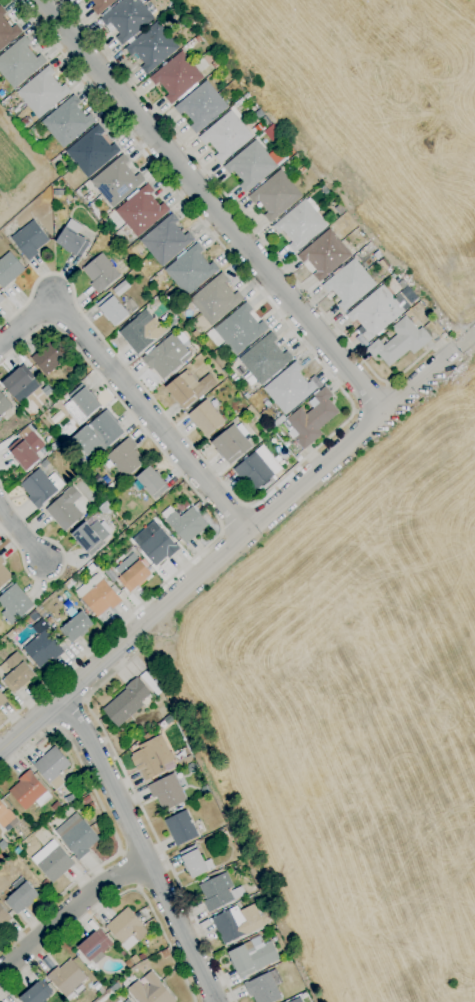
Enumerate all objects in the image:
building: (101, 5)
building: (175, 10)
building: (128, 19)
building: (7, 31)
building: (179, 35)
building: (198, 39)
building: (152, 47)
building: (19, 63)
building: (216, 64)
building: (177, 78)
building: (42, 92)
building: (242, 101)
building: (201, 107)
building: (25, 122)
building: (67, 122)
building: (226, 136)
building: (42, 149)
building: (91, 151)
building: (251, 166)
building: (302, 169)
building: (116, 182)
road: (222, 193)
building: (275, 195)
building: (332, 202)
road: (212, 206)
building: (141, 211)
building: (339, 211)
building: (300, 225)
building: (30, 239)
building: (73, 239)
building: (166, 240)
building: (325, 254)
building: (9, 269)
building: (190, 270)
building: (100, 273)
building: (349, 284)
building: (121, 289)
building: (1, 299)
building: (215, 300)
building: (115, 309)
building: (376, 312)
building: (240, 329)
building: (142, 332)
road: (466, 340)
building: (400, 342)
building: (48, 357)
building: (166, 357)
road: (417, 360)
building: (264, 361)
building: (234, 378)
building: (21, 384)
building: (189, 388)
building: (289, 389)
building: (46, 390)
road: (127, 390)
building: (247, 396)
road: (370, 398)
building: (81, 404)
building: (4, 405)
road: (353, 409)
building: (41, 417)
building: (206, 418)
building: (311, 419)
building: (277, 421)
building: (102, 434)
building: (231, 444)
building: (58, 449)
building: (23, 453)
building: (125, 458)
building: (255, 473)
building: (152, 482)
building: (40, 487)
building: (105, 508)
building: (65, 509)
road: (214, 515)
road: (236, 518)
building: (186, 524)
road: (20, 532)
building: (90, 536)
building: (155, 544)
road: (227, 548)
road: (63, 562)
building: (132, 572)
building: (4, 575)
building: (110, 575)
building: (98, 596)
building: (14, 603)
building: (40, 612)
building: (34, 616)
building: (75, 625)
building: (11, 635)
building: (42, 646)
building: (16, 673)
building: (150, 683)
building: (2, 700)
road: (84, 701)
building: (126, 703)
road: (68, 713)
building: (169, 720)
road: (54, 727)
building: (152, 758)
building: (51, 765)
building: (29, 792)
building: (167, 792)
building: (69, 799)
building: (86, 800)
building: (92, 806)
building: (56, 807)
building: (5, 815)
road: (144, 815)
road: (110, 824)
building: (181, 828)
building: (76, 836)
building: (225, 836)
road: (140, 848)
building: (52, 862)
building: (195, 862)
road: (130, 871)
building: (45, 883)
building: (219, 892)
building: (21, 898)
road: (115, 898)
road: (69, 912)
building: (4, 918)
building: (238, 923)
building: (127, 929)
building: (94, 946)
building: (142, 957)
building: (253, 957)
building: (68, 980)
building: (115, 989)
building: (263, 989)
building: (150, 991)
building: (37, 993)
building: (297, 1000)
building: (127, 1001)

